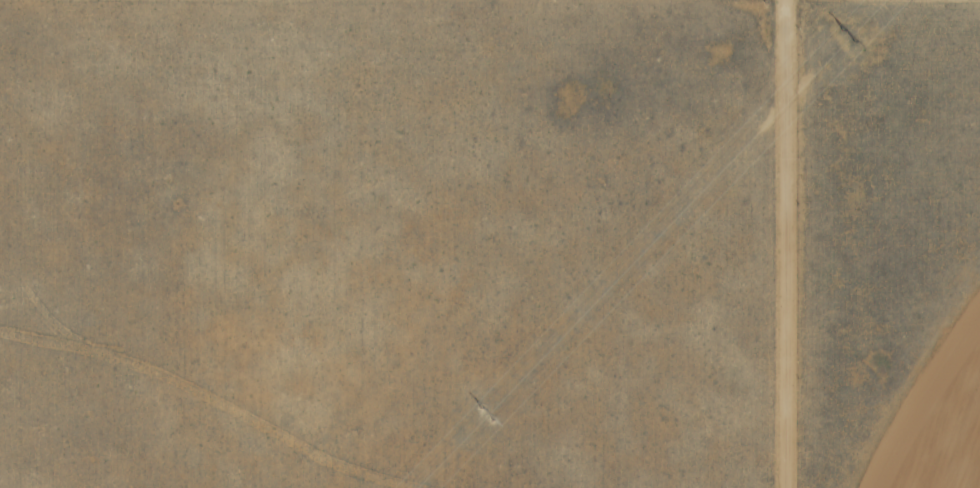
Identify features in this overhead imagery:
power tower: (845, 32)
road: (787, 244)
power tower: (486, 409)

